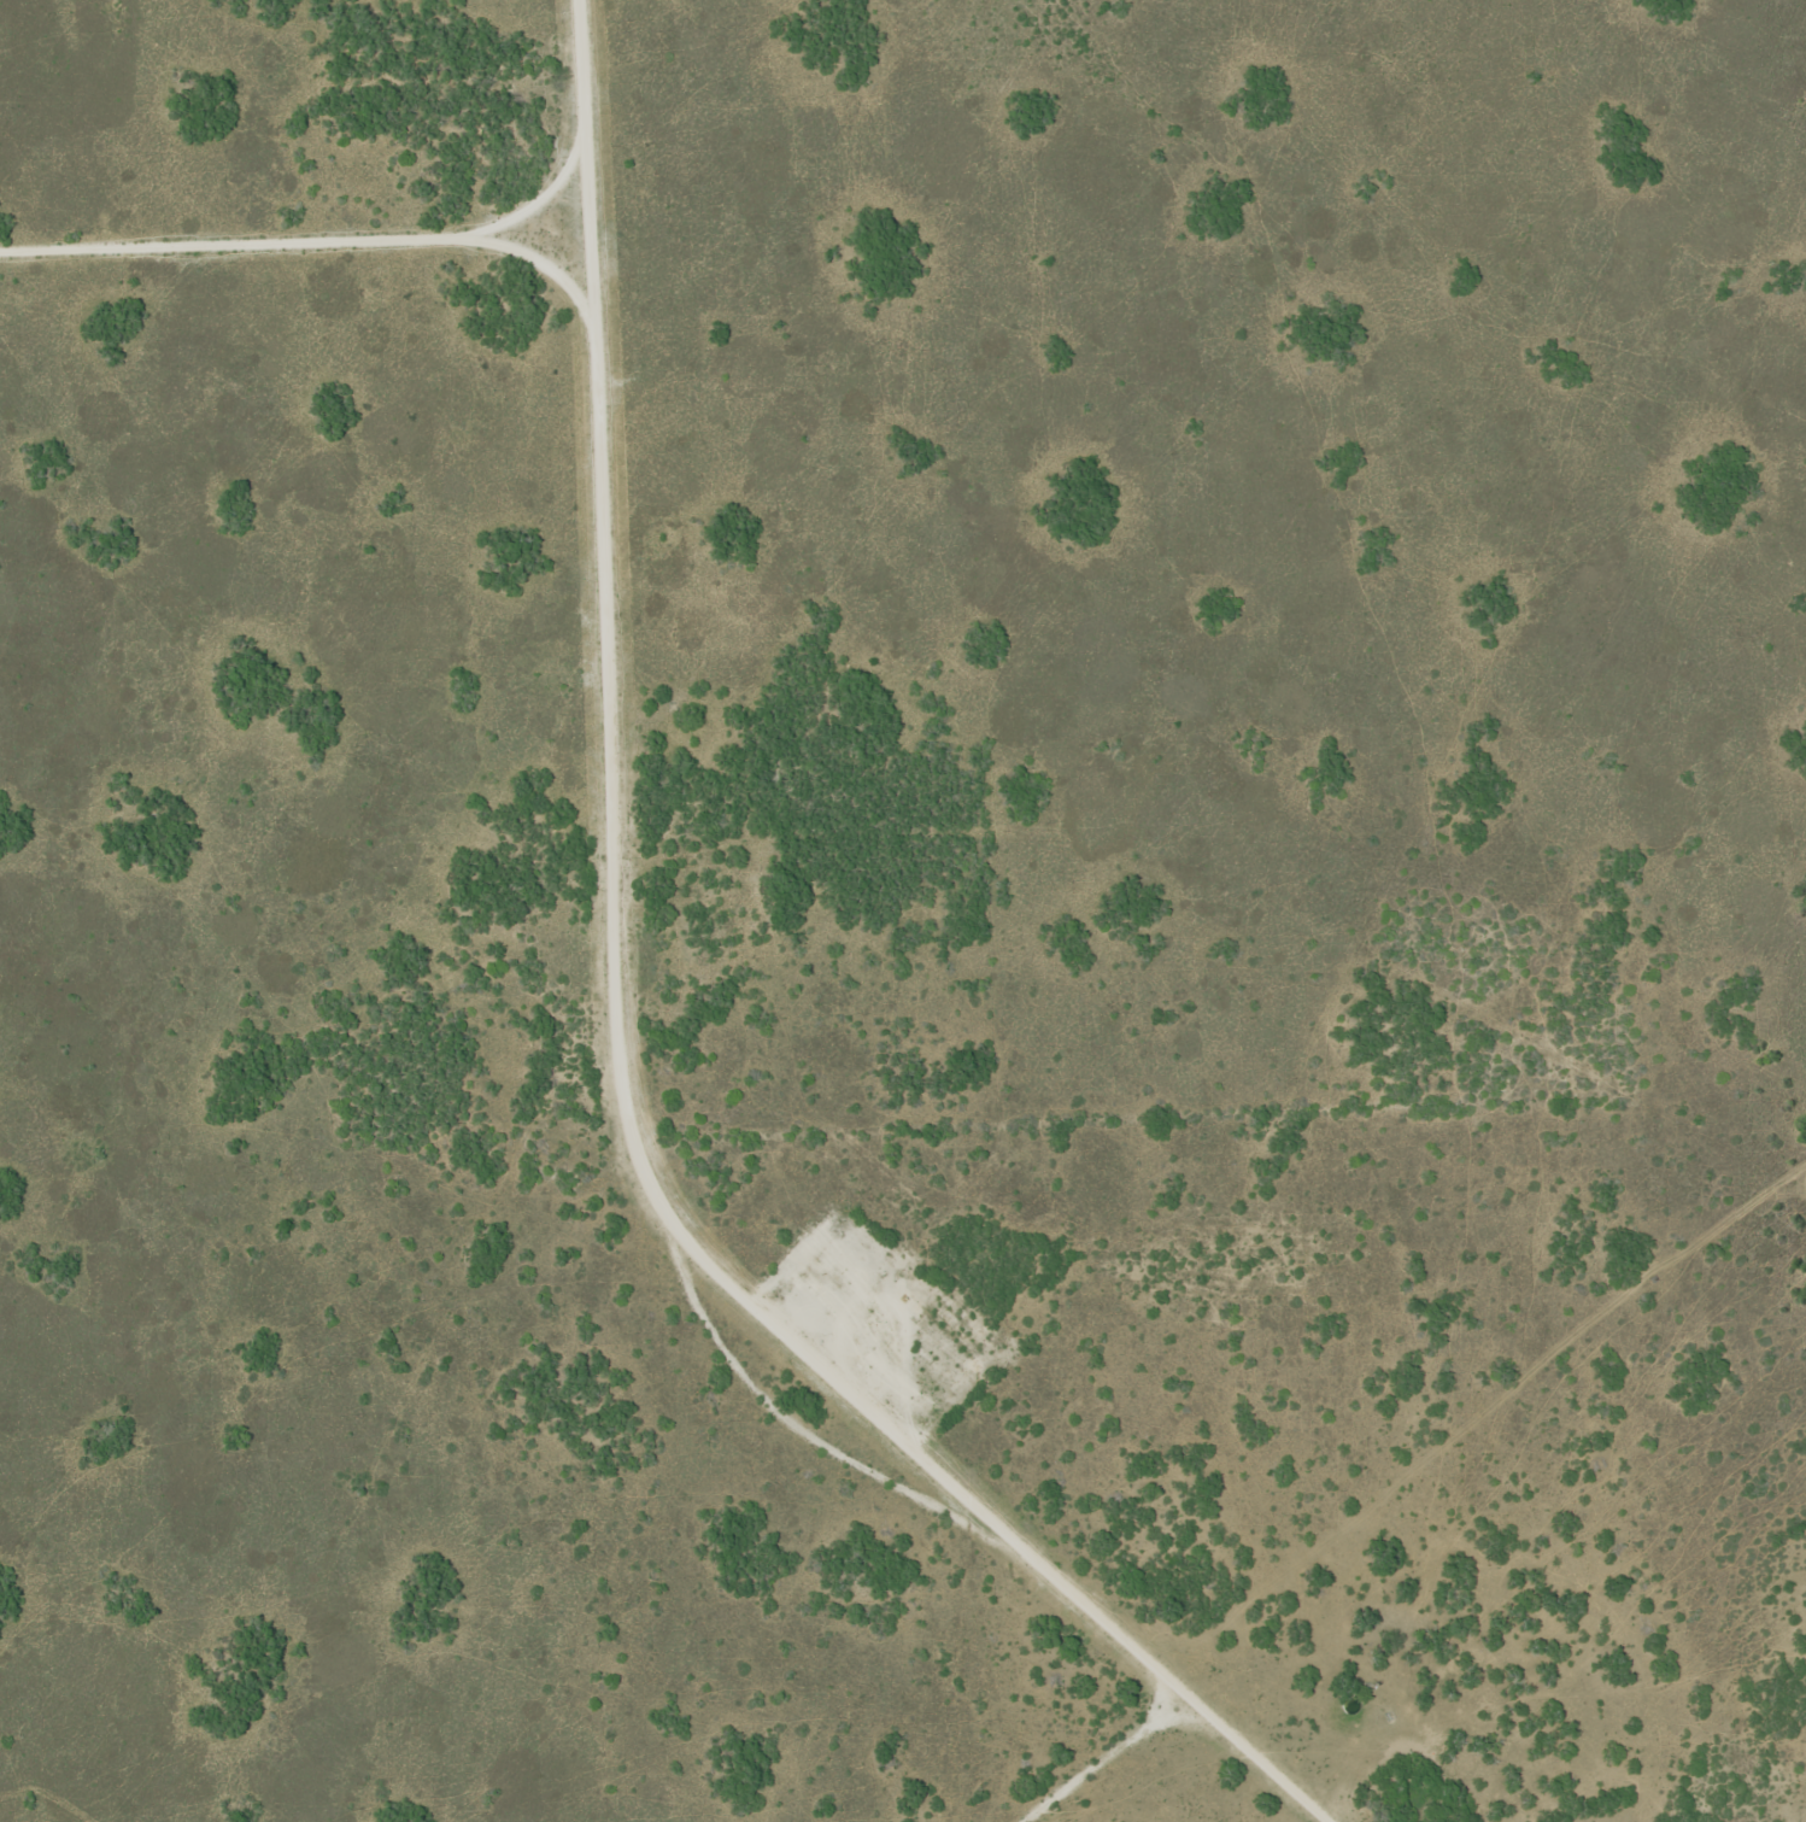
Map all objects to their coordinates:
road: (286, 235)
road: (627, 1049)

